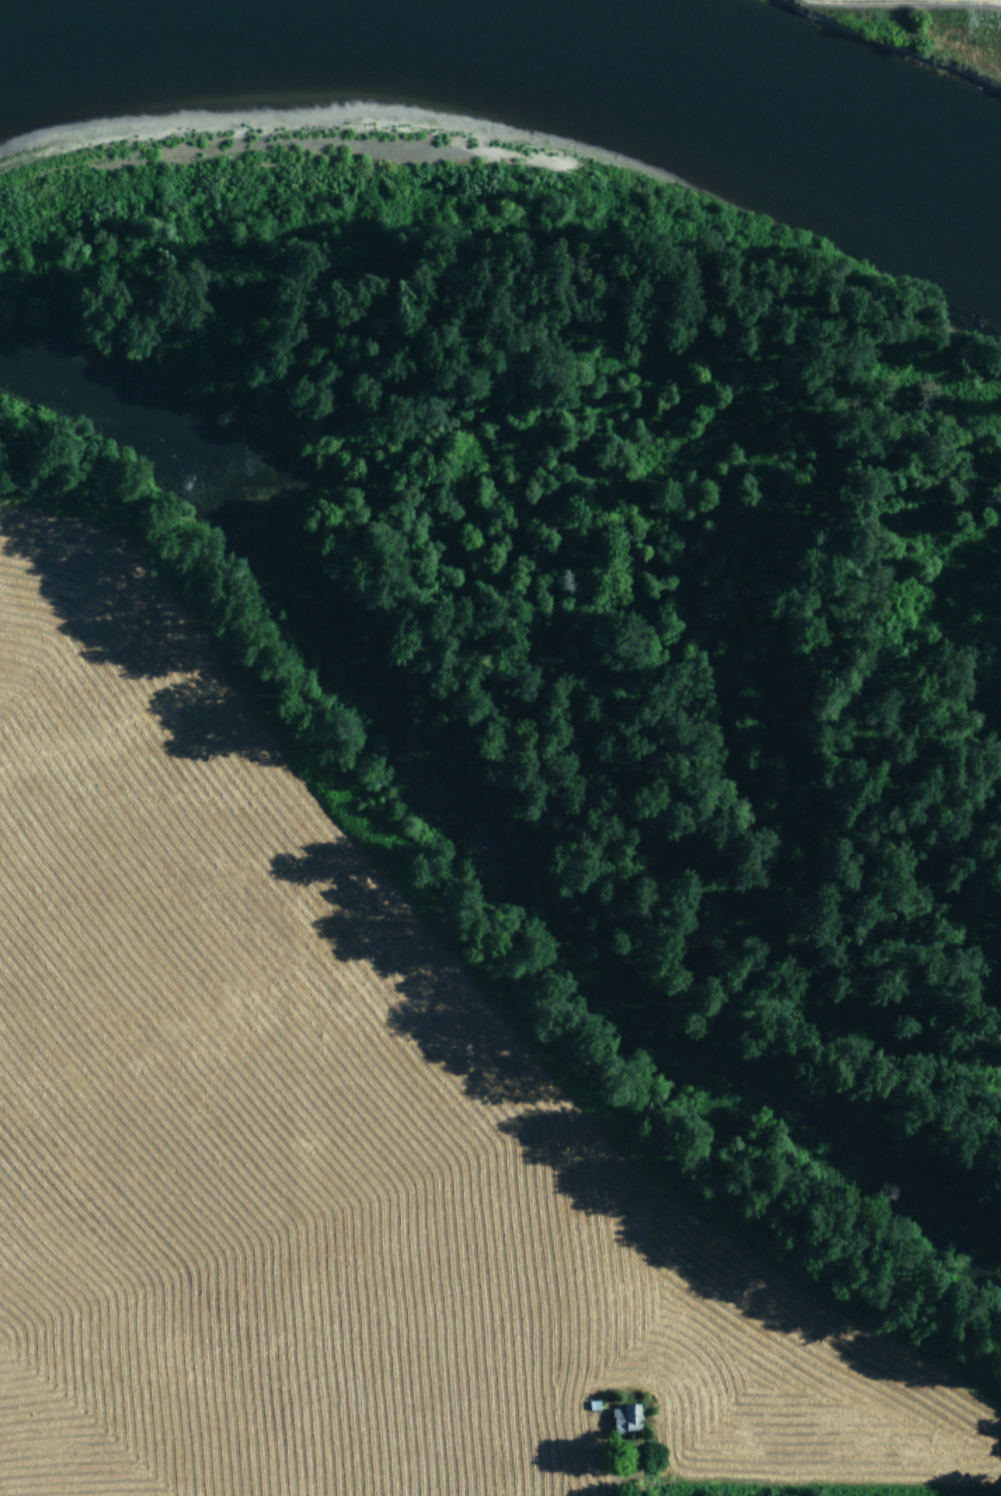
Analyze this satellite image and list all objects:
crop: (882, 12)
river: (513, 80)
crop: (330, 1150)
building: (627, 1417)

